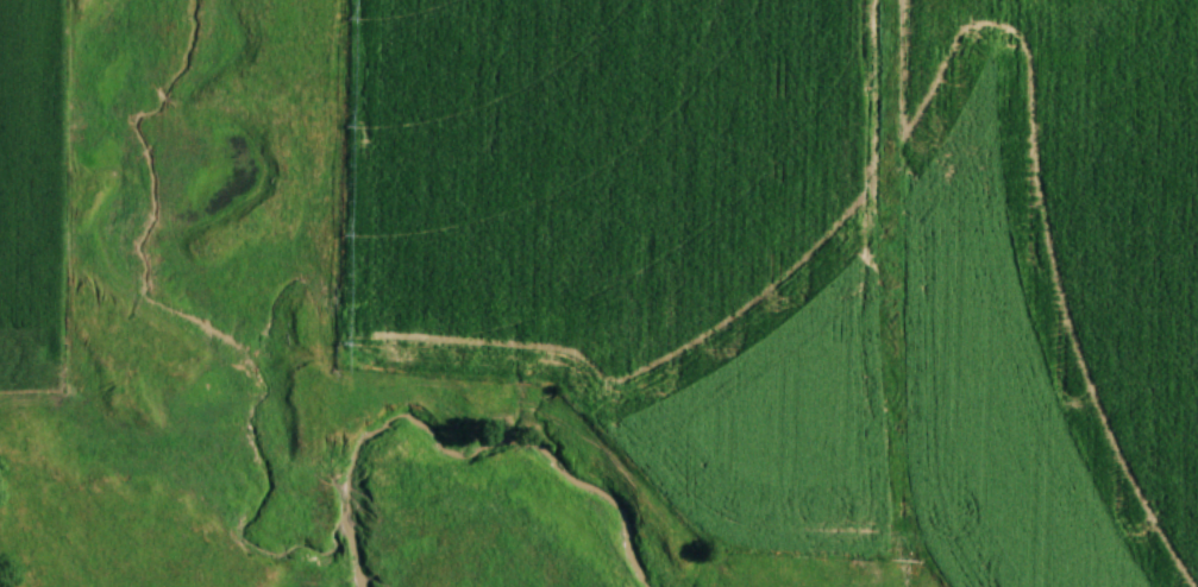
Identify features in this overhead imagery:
river: (481, 450)

